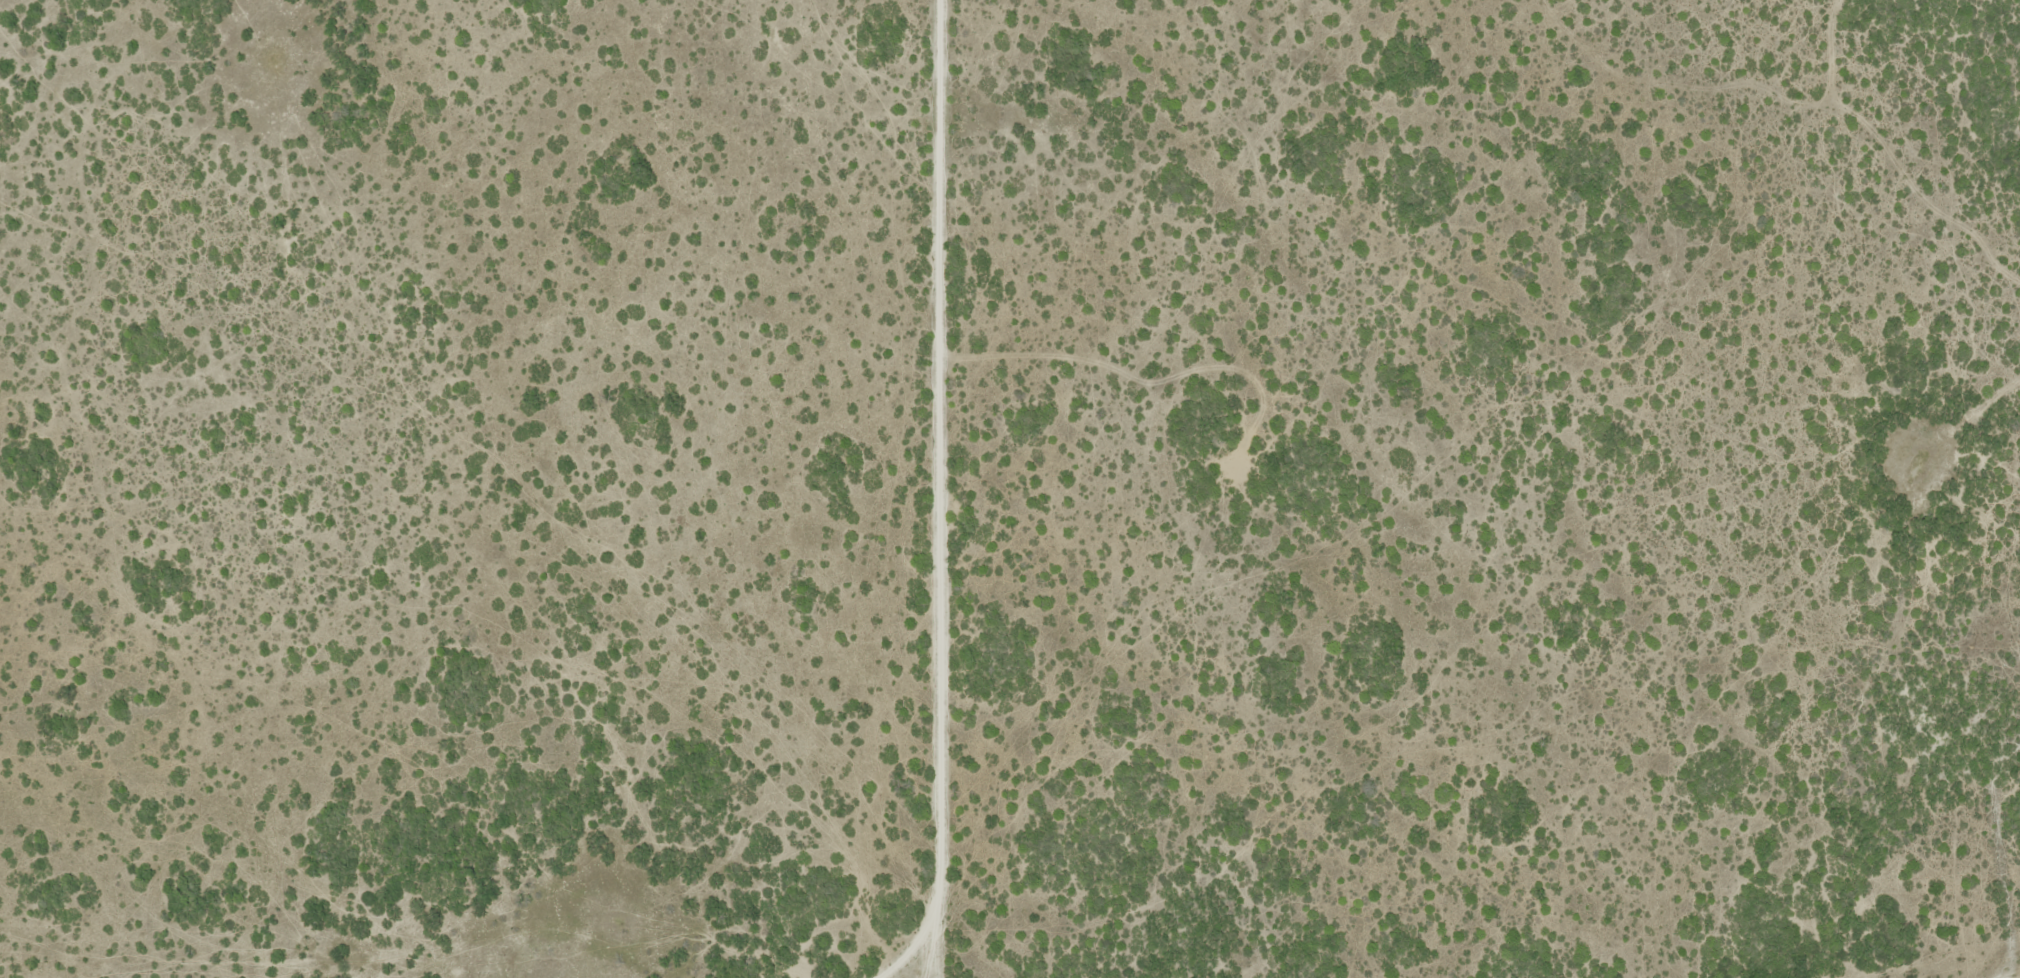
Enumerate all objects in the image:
road: (960, 489)
road: (2014, 897)
road: (930, 963)

